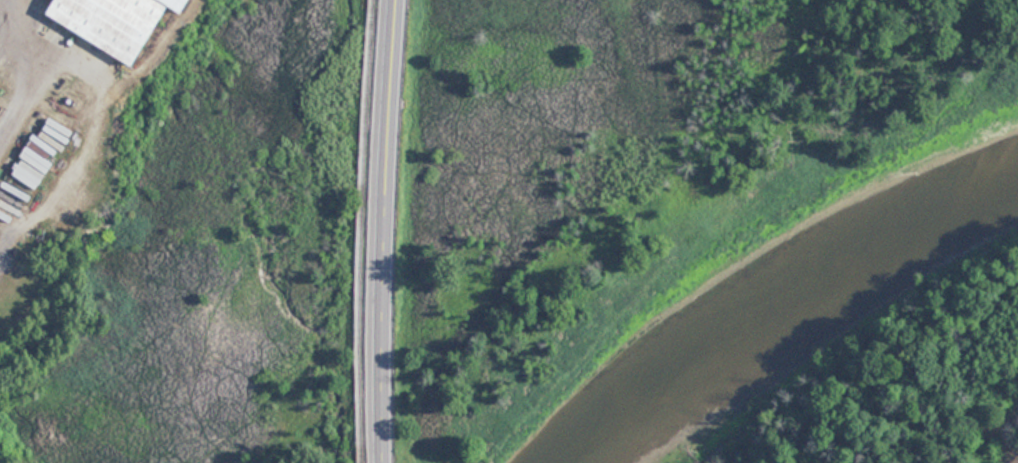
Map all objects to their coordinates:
building: (118, 22)
road: (39, 71)
road: (359, 231)
road: (383, 231)
river: (774, 283)

